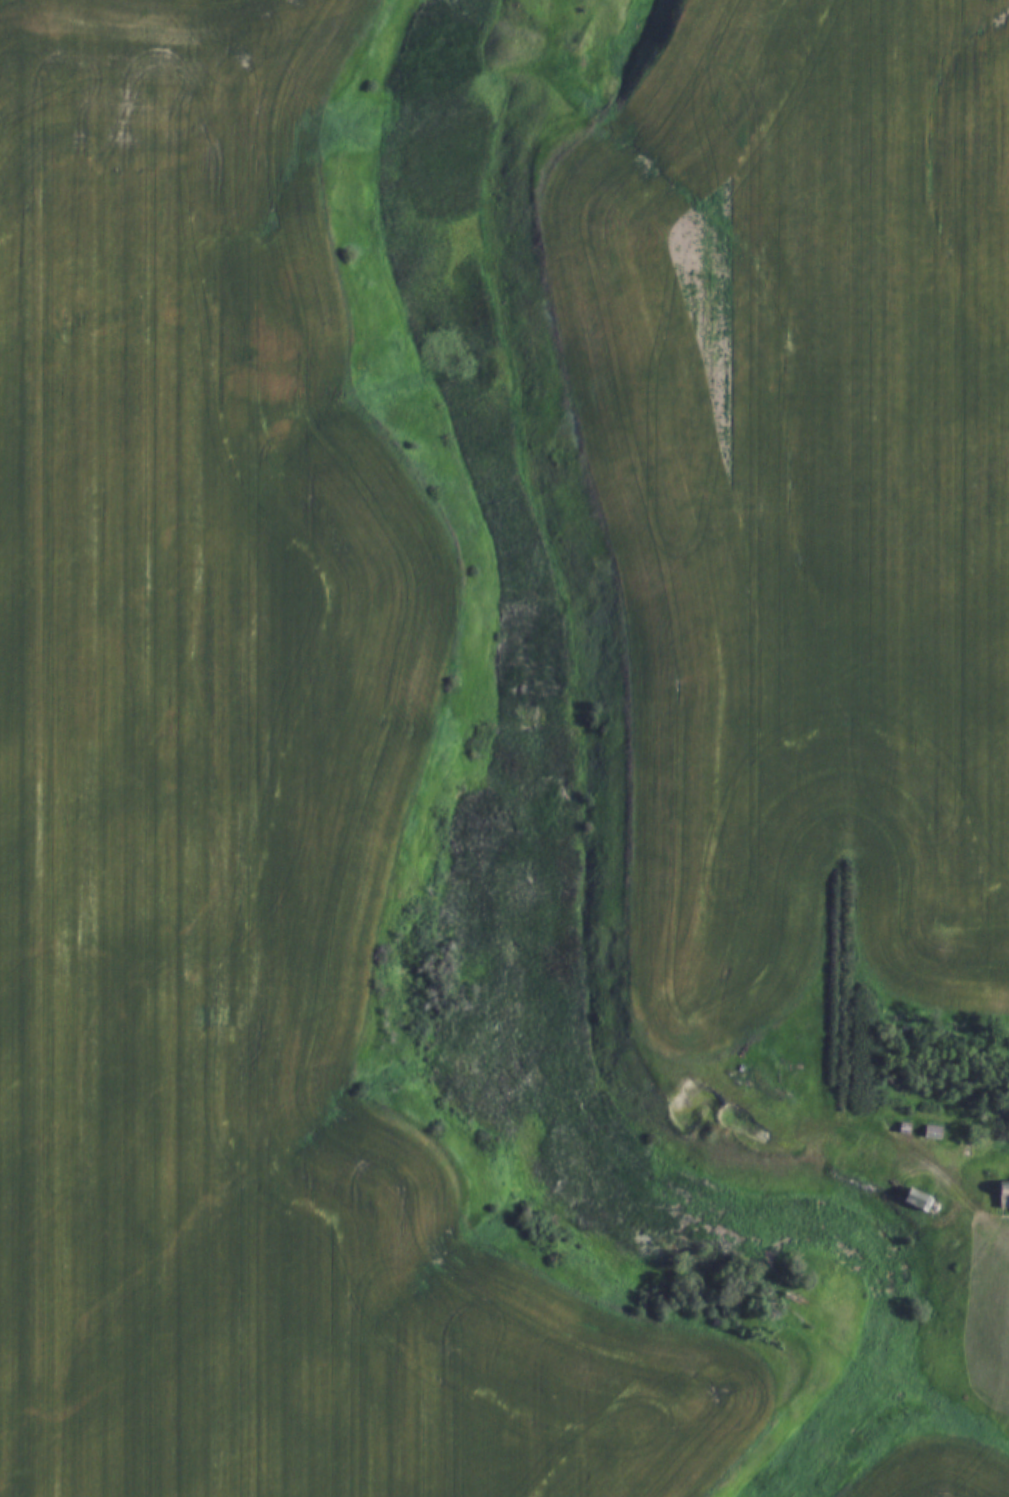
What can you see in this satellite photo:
building: (932, 1133)
road: (944, 1175)
building: (915, 1201)

